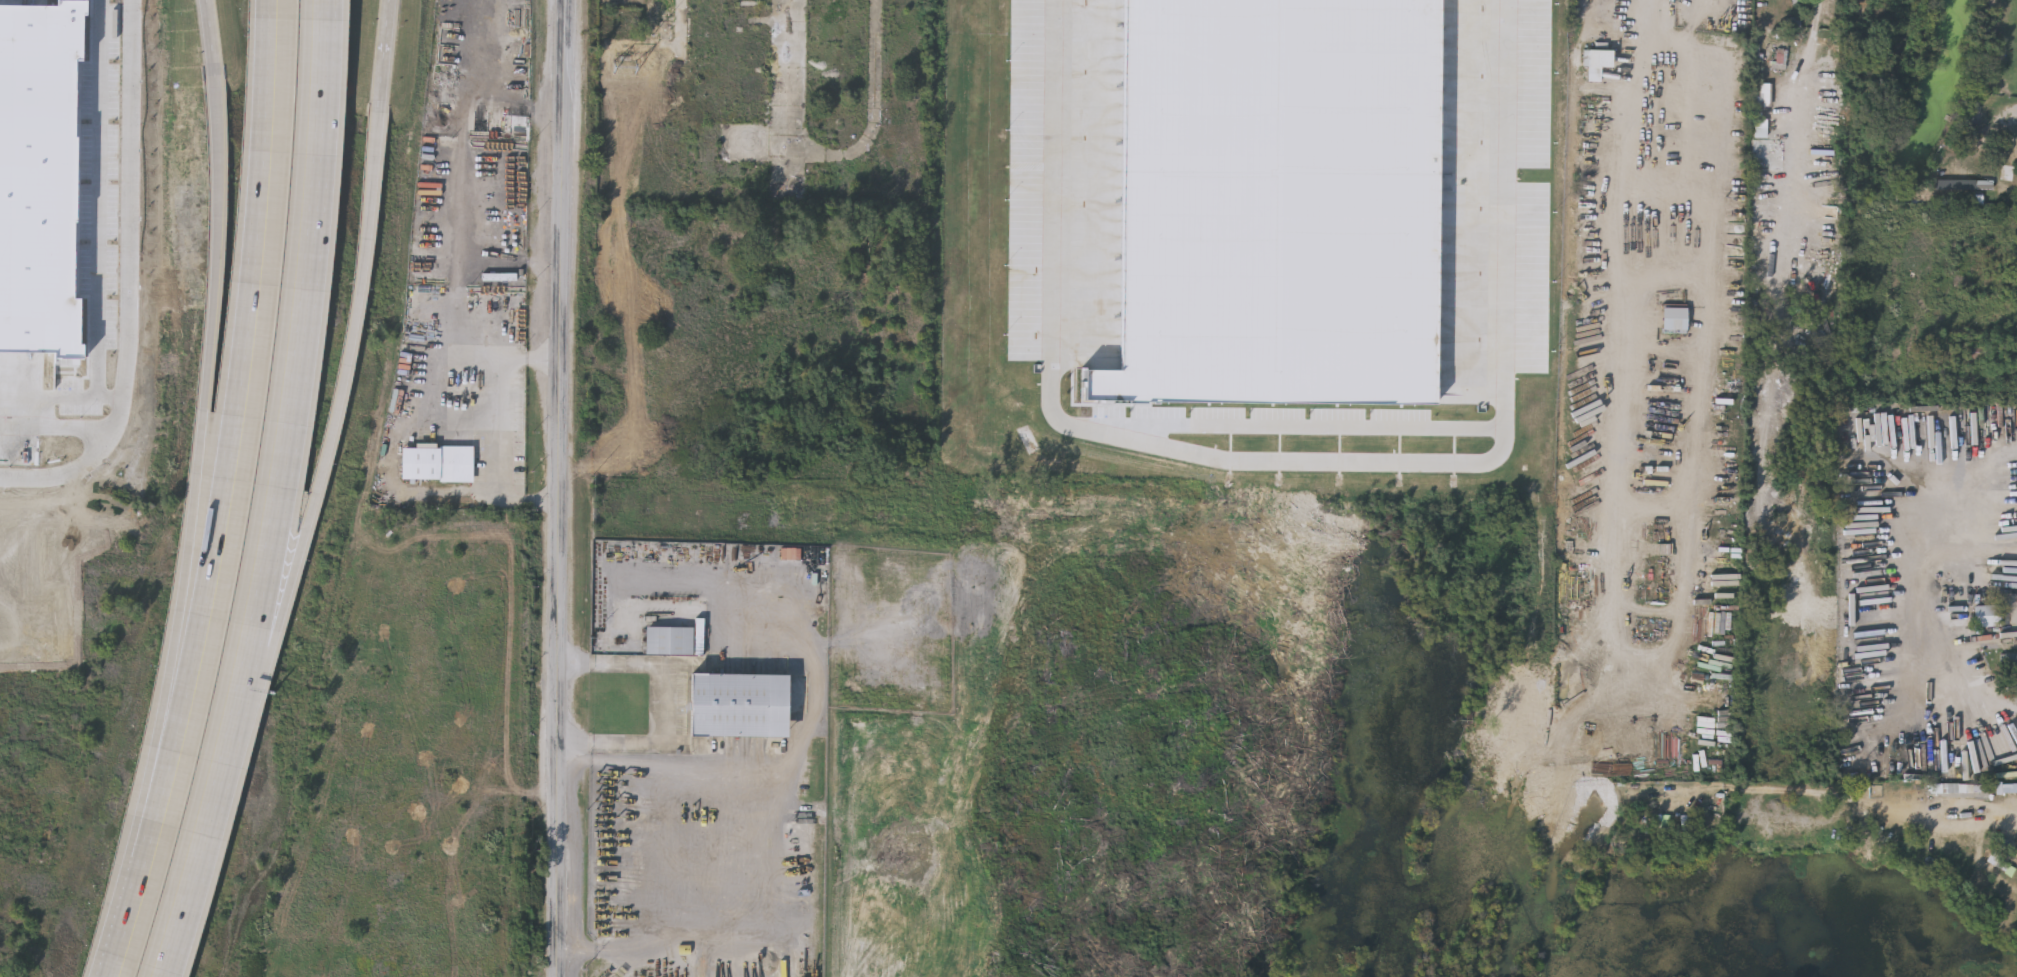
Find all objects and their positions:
road: (1665, 16)
building: (704, 28)
road: (214, 43)
road: (386, 56)
building: (752, 56)
building: (1599, 61)
building: (752, 90)
building: (1761, 98)
building: (1972, 187)
building: (1363, 206)
building: (1965, 215)
building: (1997, 263)
building: (1949, 303)
building: (1893, 311)
road: (296, 355)
road: (457, 396)
road: (341, 419)
road: (1292, 430)
road: (512, 435)
road: (236, 444)
building: (439, 464)
road: (198, 485)
road: (562, 488)
building: (1988, 616)
building: (677, 640)
road: (748, 643)
road: (873, 643)
road: (900, 655)
building: (2009, 665)
road: (665, 705)
building: (739, 706)
road: (817, 716)
building: (1980, 791)
road: (206, 843)
road: (656, 857)
road: (129, 929)
road: (751, 945)

